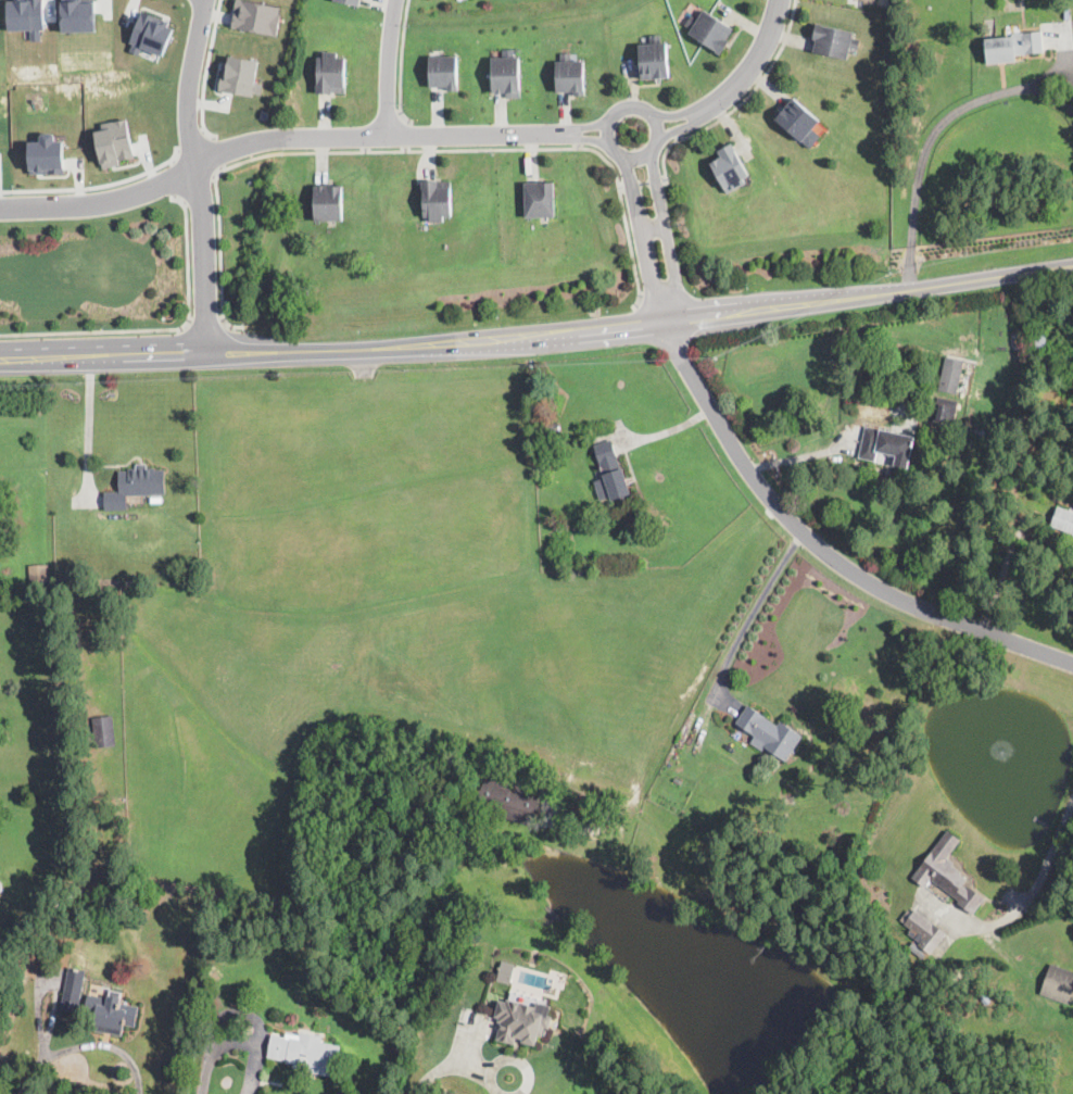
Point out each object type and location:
building: (351, 1)
building: (78, 15)
building: (256, 15)
building: (26, 16)
building: (710, 32)
building: (150, 34)
building: (834, 42)
building: (1013, 46)
building: (655, 60)
road: (755, 61)
road: (402, 64)
road: (387, 68)
building: (443, 71)
road: (204, 72)
building: (330, 73)
building: (570, 74)
building: (506, 75)
building: (240, 76)
road: (740, 104)
road: (634, 108)
road: (678, 114)
building: (797, 121)
road: (589, 125)
road: (683, 126)
road: (406, 135)
road: (933, 135)
road: (589, 137)
road: (380, 138)
road: (192, 141)
building: (115, 142)
road: (407, 149)
road: (215, 151)
building: (47, 153)
building: (730, 169)
road: (199, 175)
road: (643, 184)
road: (96, 185)
road: (199, 188)
building: (437, 198)
building: (540, 199)
road: (101, 201)
building: (328, 201)
road: (655, 227)
road: (669, 237)
road: (645, 239)
road: (869, 298)
road: (206, 320)
road: (163, 329)
building: (1038, 341)
road: (378, 350)
road: (45, 356)
building: (887, 366)
building: (950, 375)
building: (945, 408)
road: (89, 417)
building: (552, 429)
road: (668, 430)
building: (886, 445)
road: (801, 454)
building: (609, 473)
building: (135, 487)
building: (1062, 520)
road: (823, 548)
building: (38, 574)
road: (1001, 580)
road: (753, 613)
building: (0, 681)
building: (104, 731)
building: (769, 732)
building: (508, 799)
building: (947, 879)
road: (1037, 883)
building: (923, 931)
building: (81, 944)
building: (79, 959)
building: (506, 971)
building: (1058, 984)
building: (72, 992)
building: (1072, 1001)
building: (113, 1013)
road: (239, 1016)
building: (522, 1021)
road: (84, 1044)
building: (305, 1053)
road: (457, 1062)

